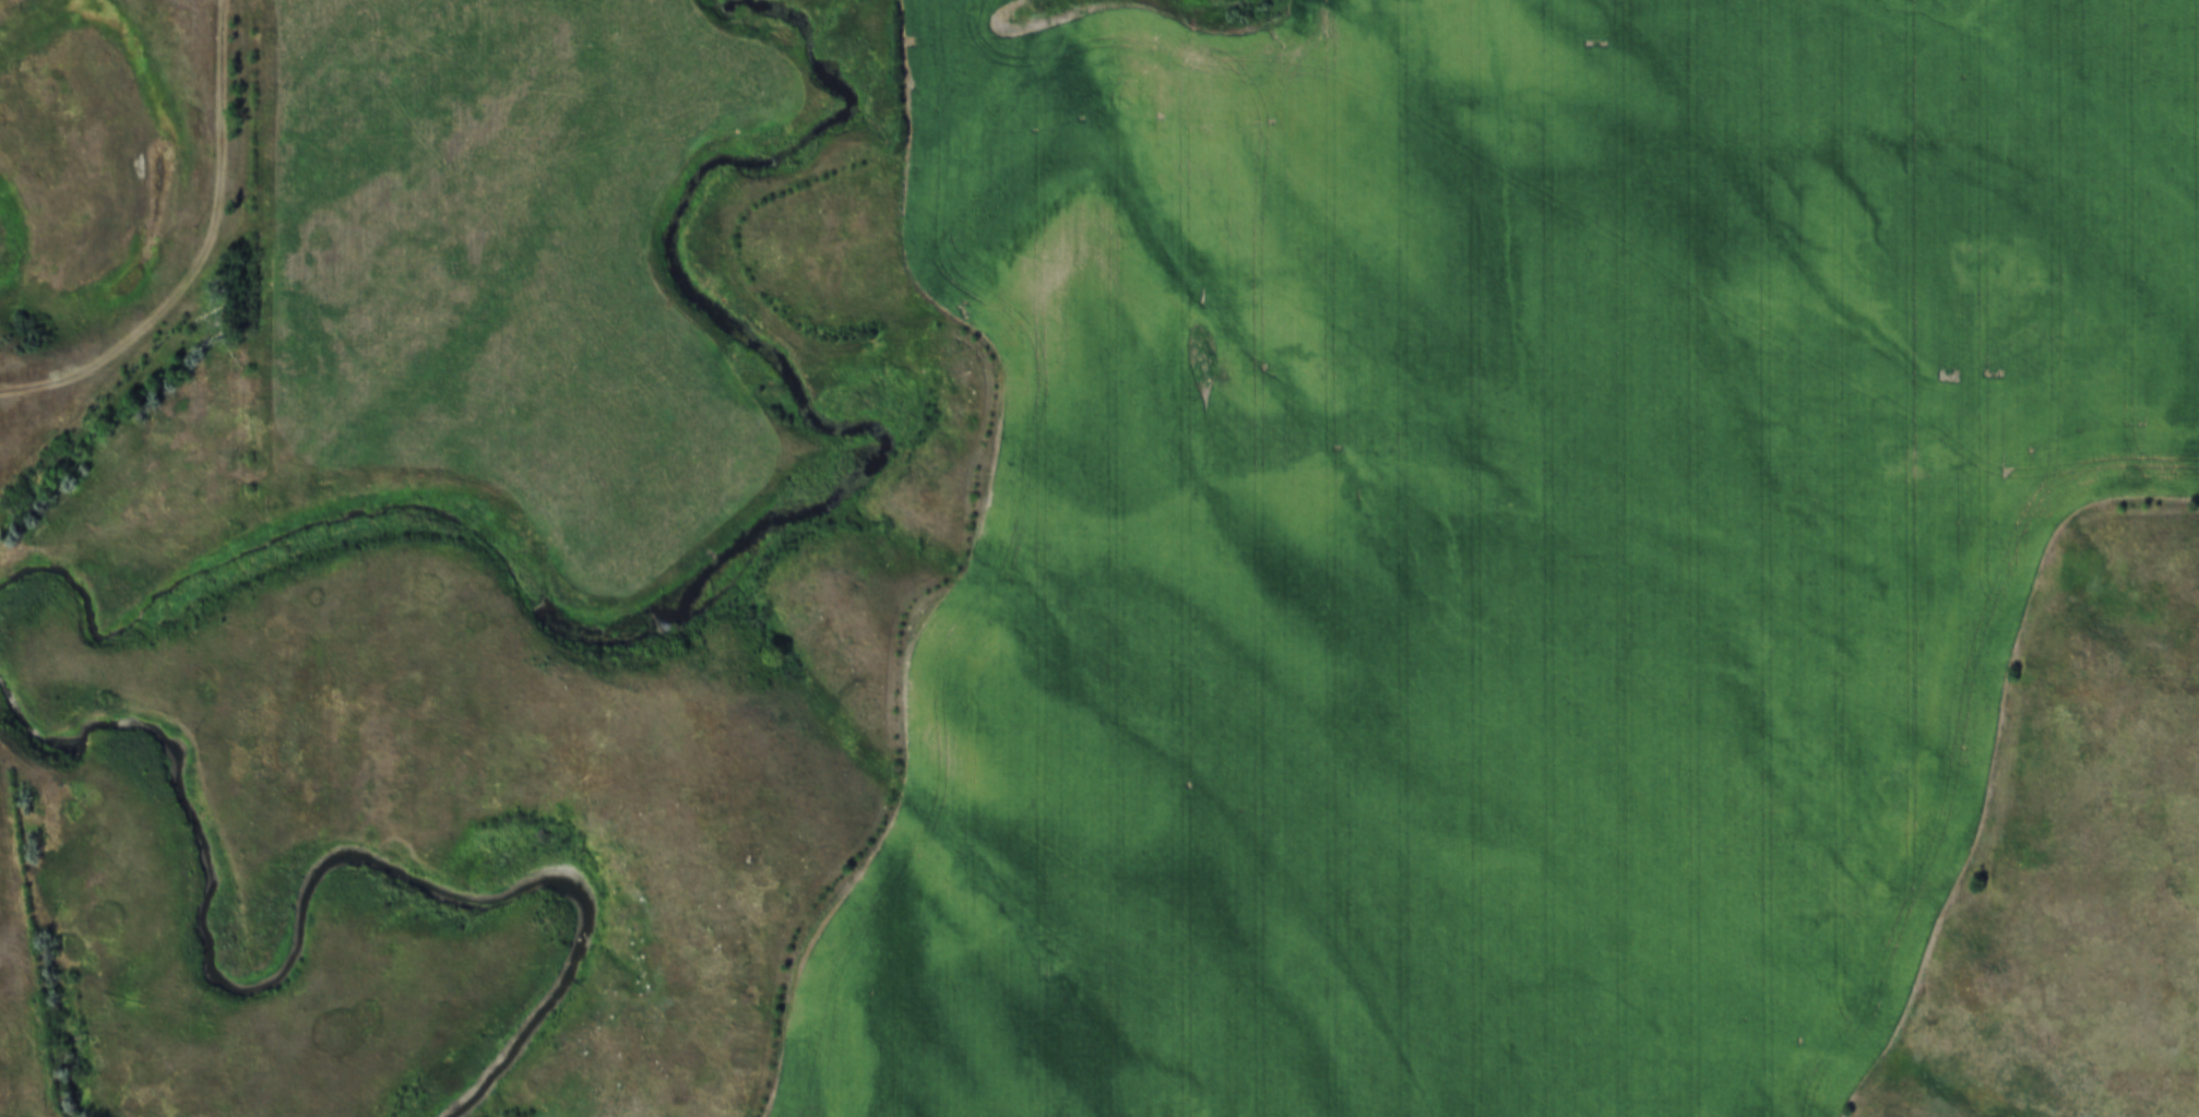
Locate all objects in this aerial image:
road: (203, 250)

